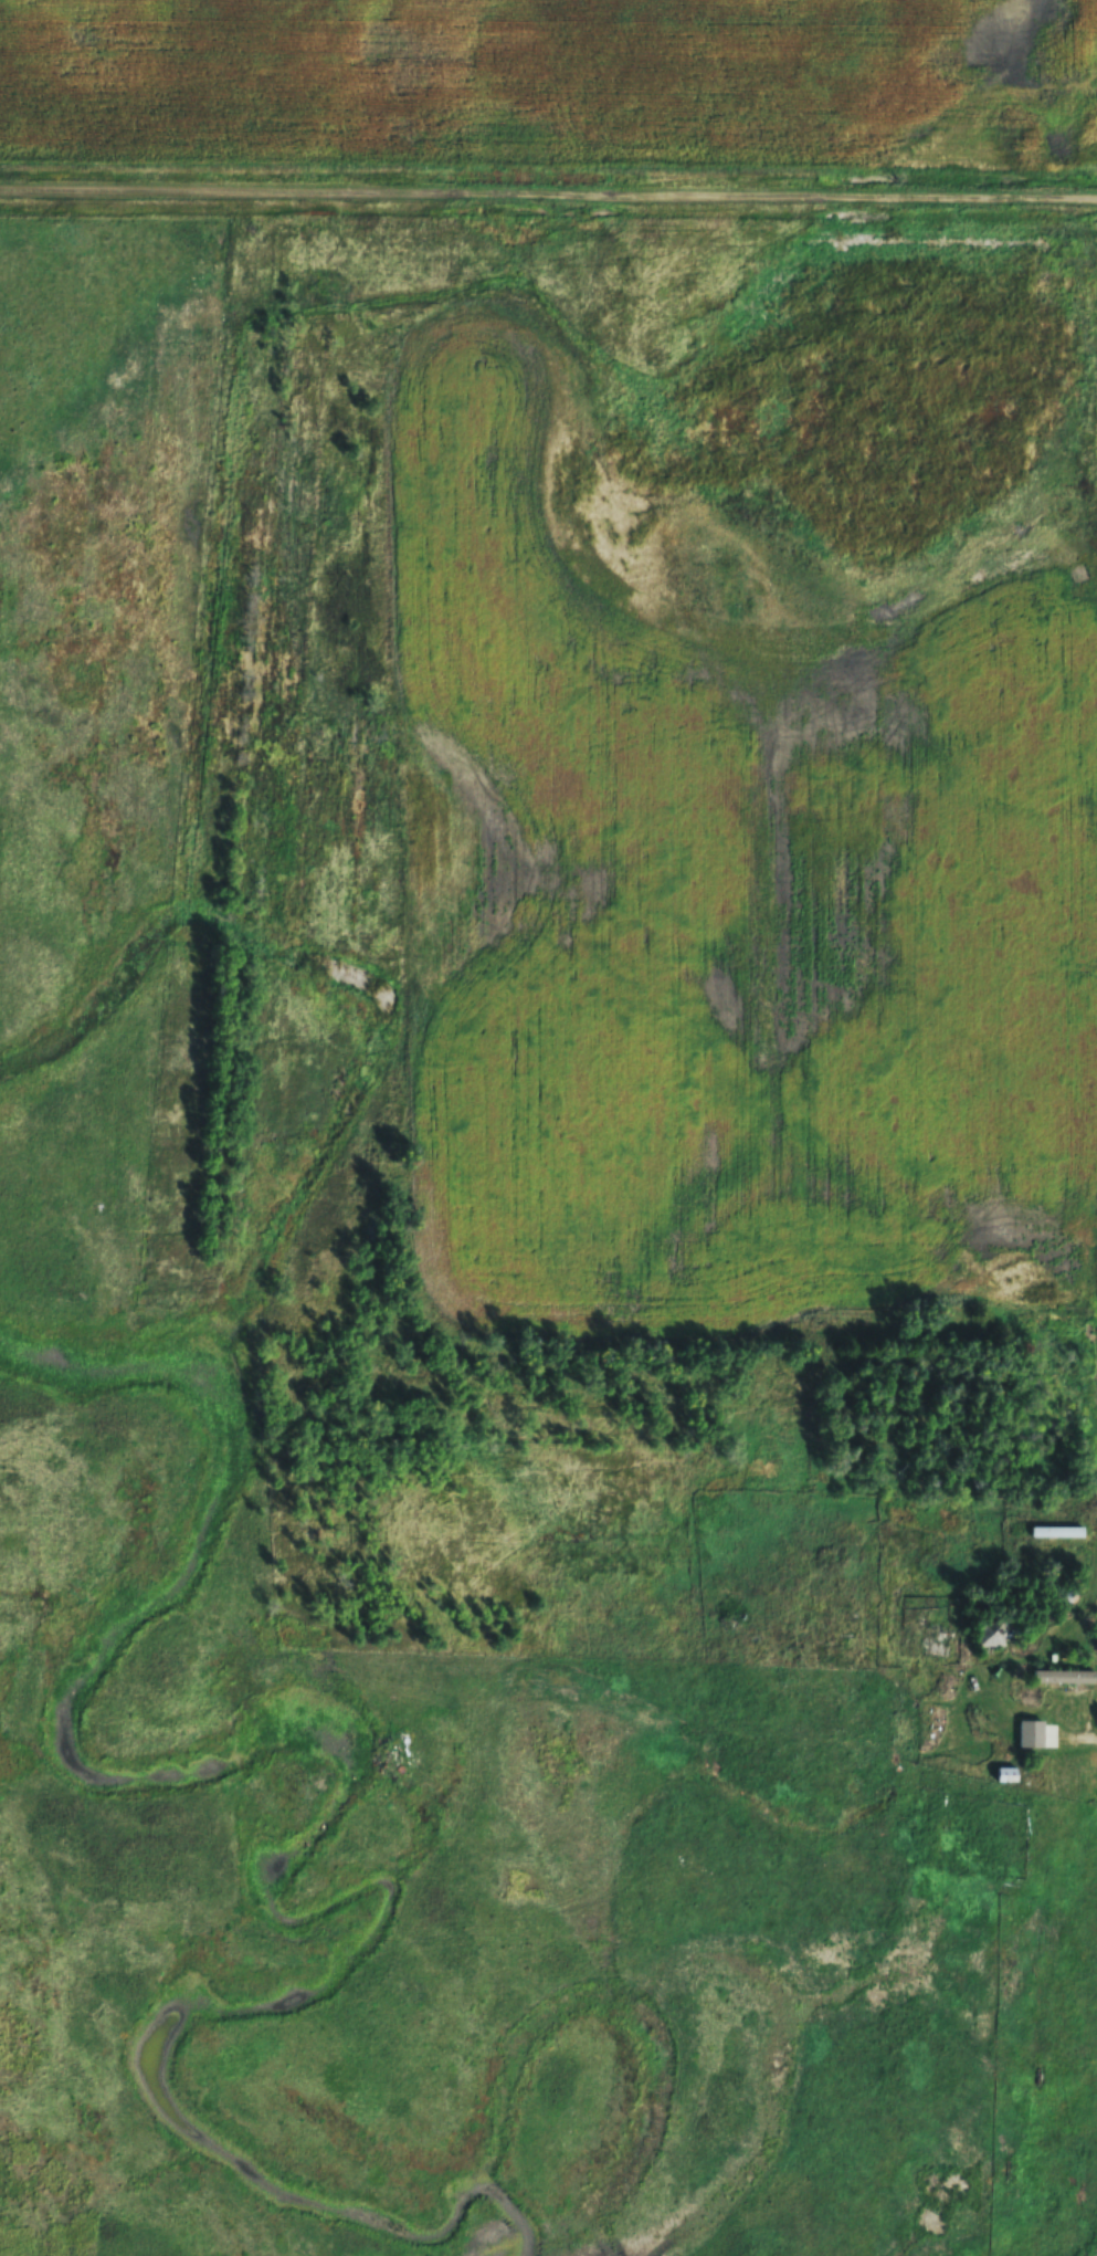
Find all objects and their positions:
road: (548, 198)
building: (996, 1635)
building: (939, 1643)
building: (1063, 1678)
building: (1026, 1700)
building: (1005, 1776)

